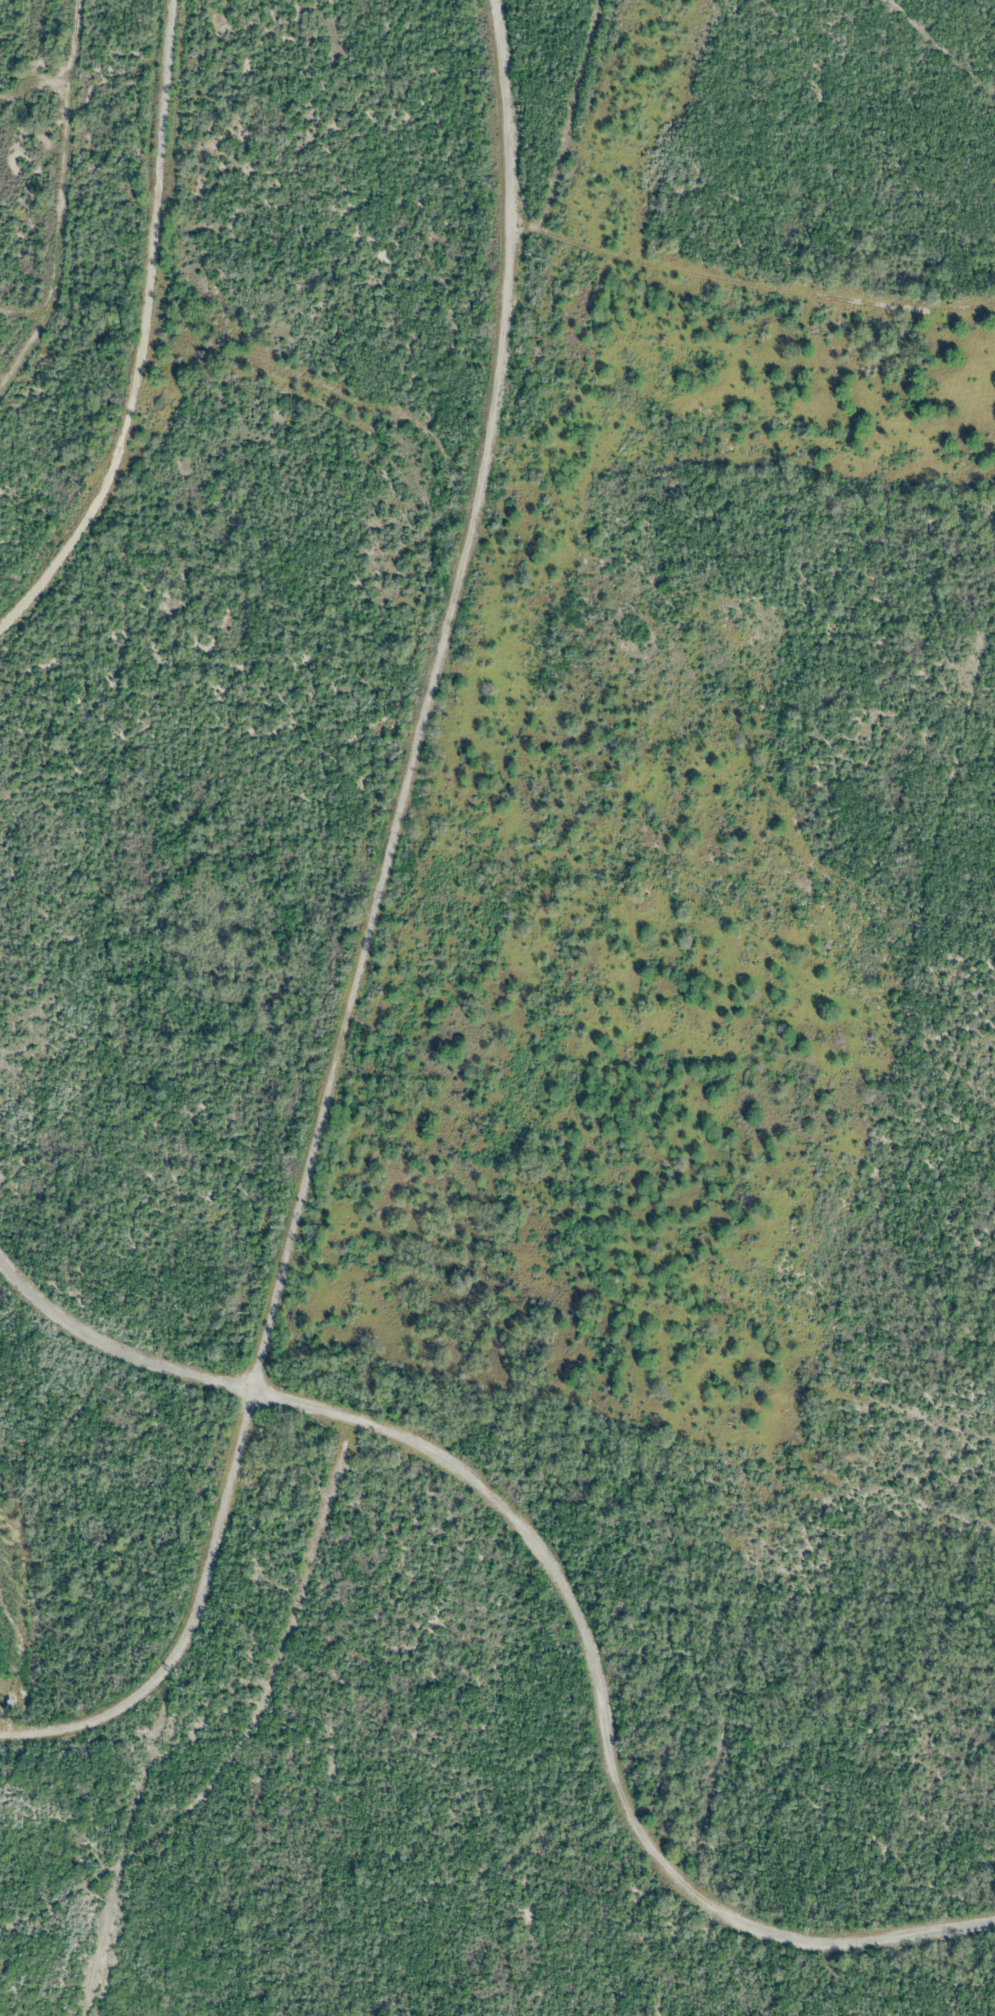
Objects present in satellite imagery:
road: (198, 337)
road: (423, 700)
road: (113, 1350)
road: (188, 1618)
road: (600, 1717)

